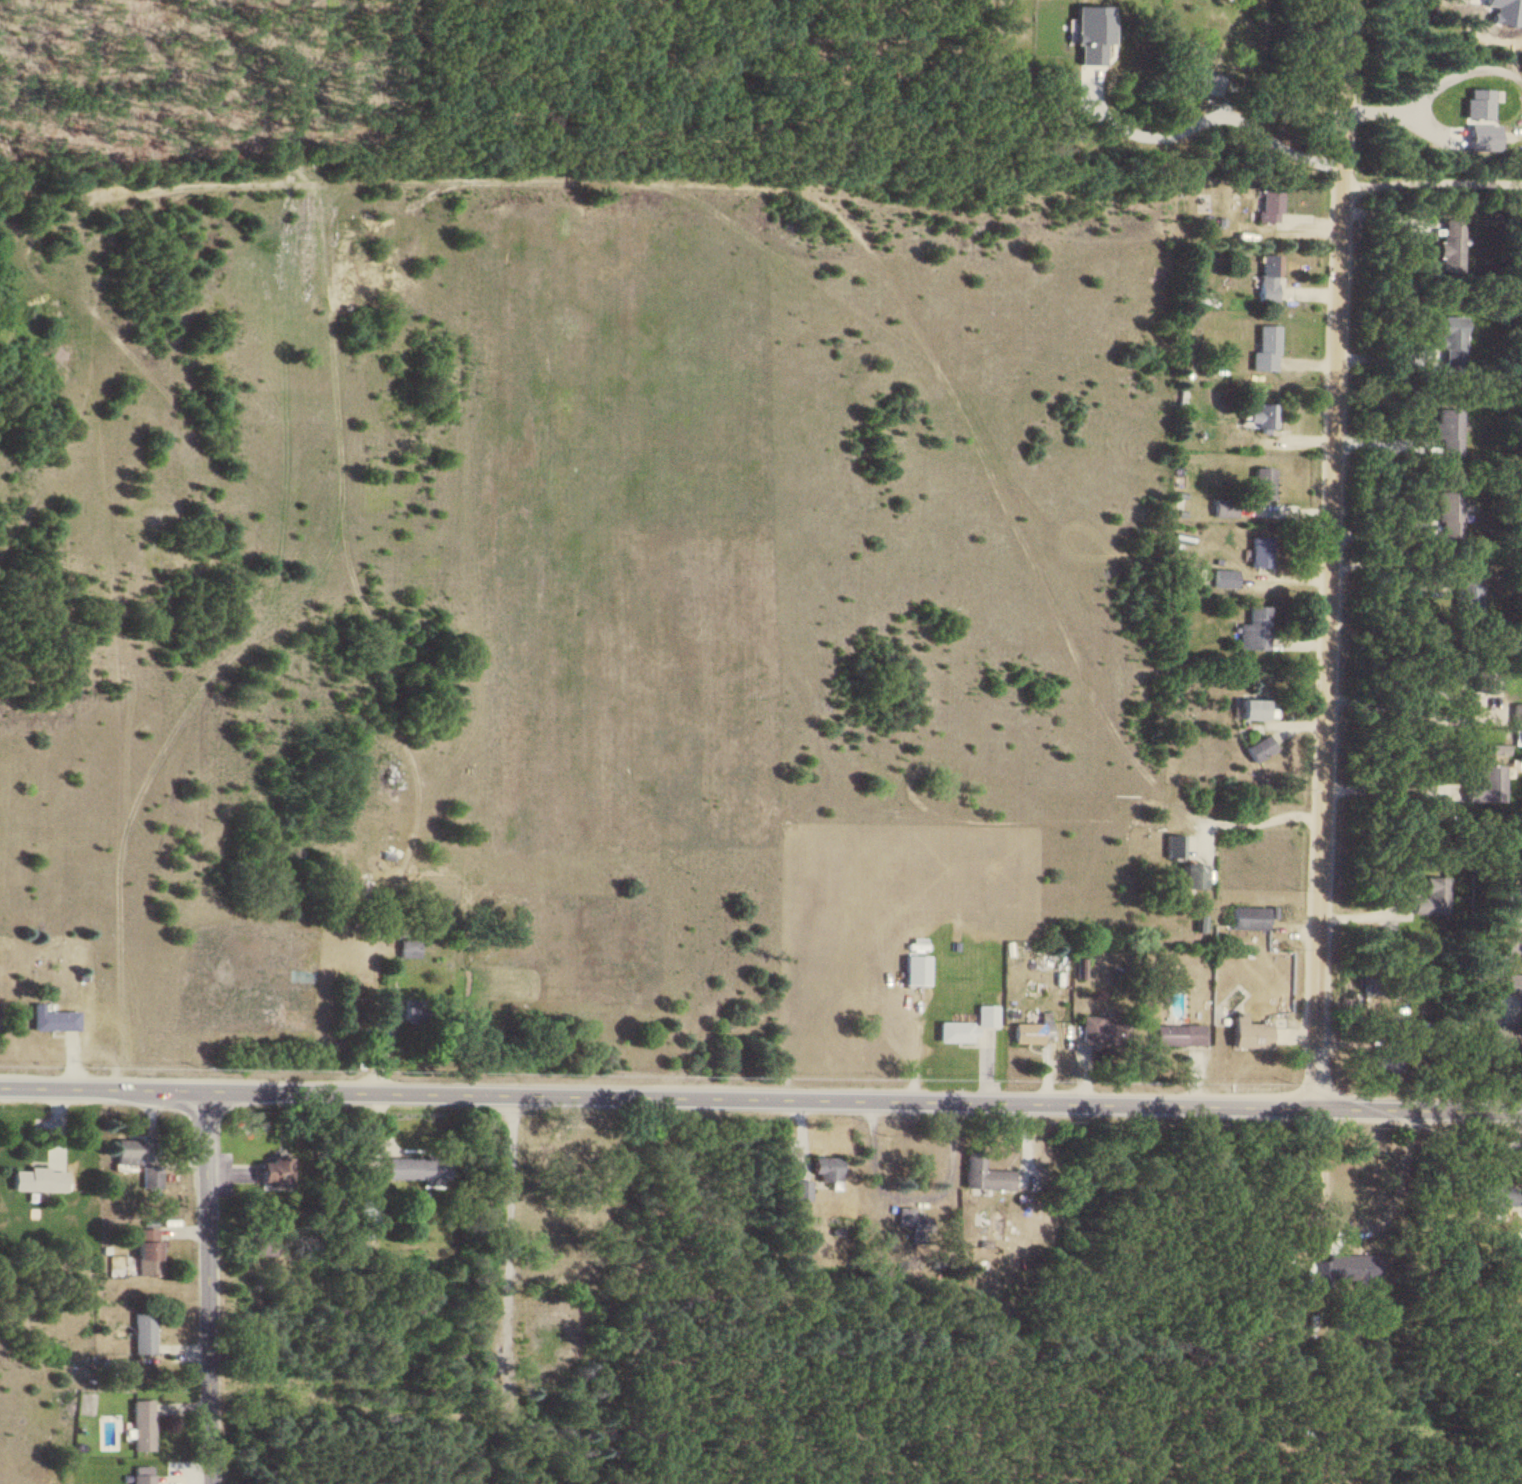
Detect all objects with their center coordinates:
road: (1487, 27)
building: (1207, 52)
road: (1395, 110)
road: (1207, 117)
road: (1430, 180)
building: (1268, 204)
building: (1450, 245)
building: (1267, 278)
building: (1451, 340)
building: (1264, 348)
road: (1387, 355)
building: (1260, 416)
building: (1447, 432)
building: (1261, 484)
building: (1223, 507)
building: (1448, 515)
road: (1381, 531)
road: (1327, 551)
building: (1259, 552)
road: (1385, 569)
building: (1224, 578)
building: (1466, 598)
building: (1254, 629)
building: (1482, 675)
building: (1251, 708)
road: (1401, 708)
building: (1516, 716)
building: (1258, 747)
building: (1486, 784)
road: (1382, 788)
road: (1254, 825)
building: (1189, 874)
building: (1431, 896)
building: (1248, 917)
building: (407, 947)
building: (914, 969)
building: (1371, 984)
building: (1512, 985)
building: (411, 1009)
building: (984, 1015)
building: (52, 1018)
building: (953, 1030)
building: (1029, 1031)
building: (1101, 1031)
building: (1248, 1031)
building: (1176, 1034)
road: (1504, 1051)
building: (1390, 1061)
road: (761, 1087)
building: (126, 1151)
building: (414, 1168)
building: (273, 1170)
building: (824, 1170)
building: (982, 1174)
building: (37, 1178)
road: (908, 1197)
building: (365, 1210)
road: (506, 1216)
building: (913, 1224)
road: (1355, 1227)
building: (261, 1244)
building: (146, 1251)
building: (1345, 1267)
road: (203, 1277)
building: (142, 1332)
building: (543, 1343)
building: (505, 1407)
building: (140, 1424)
building: (140, 1475)

